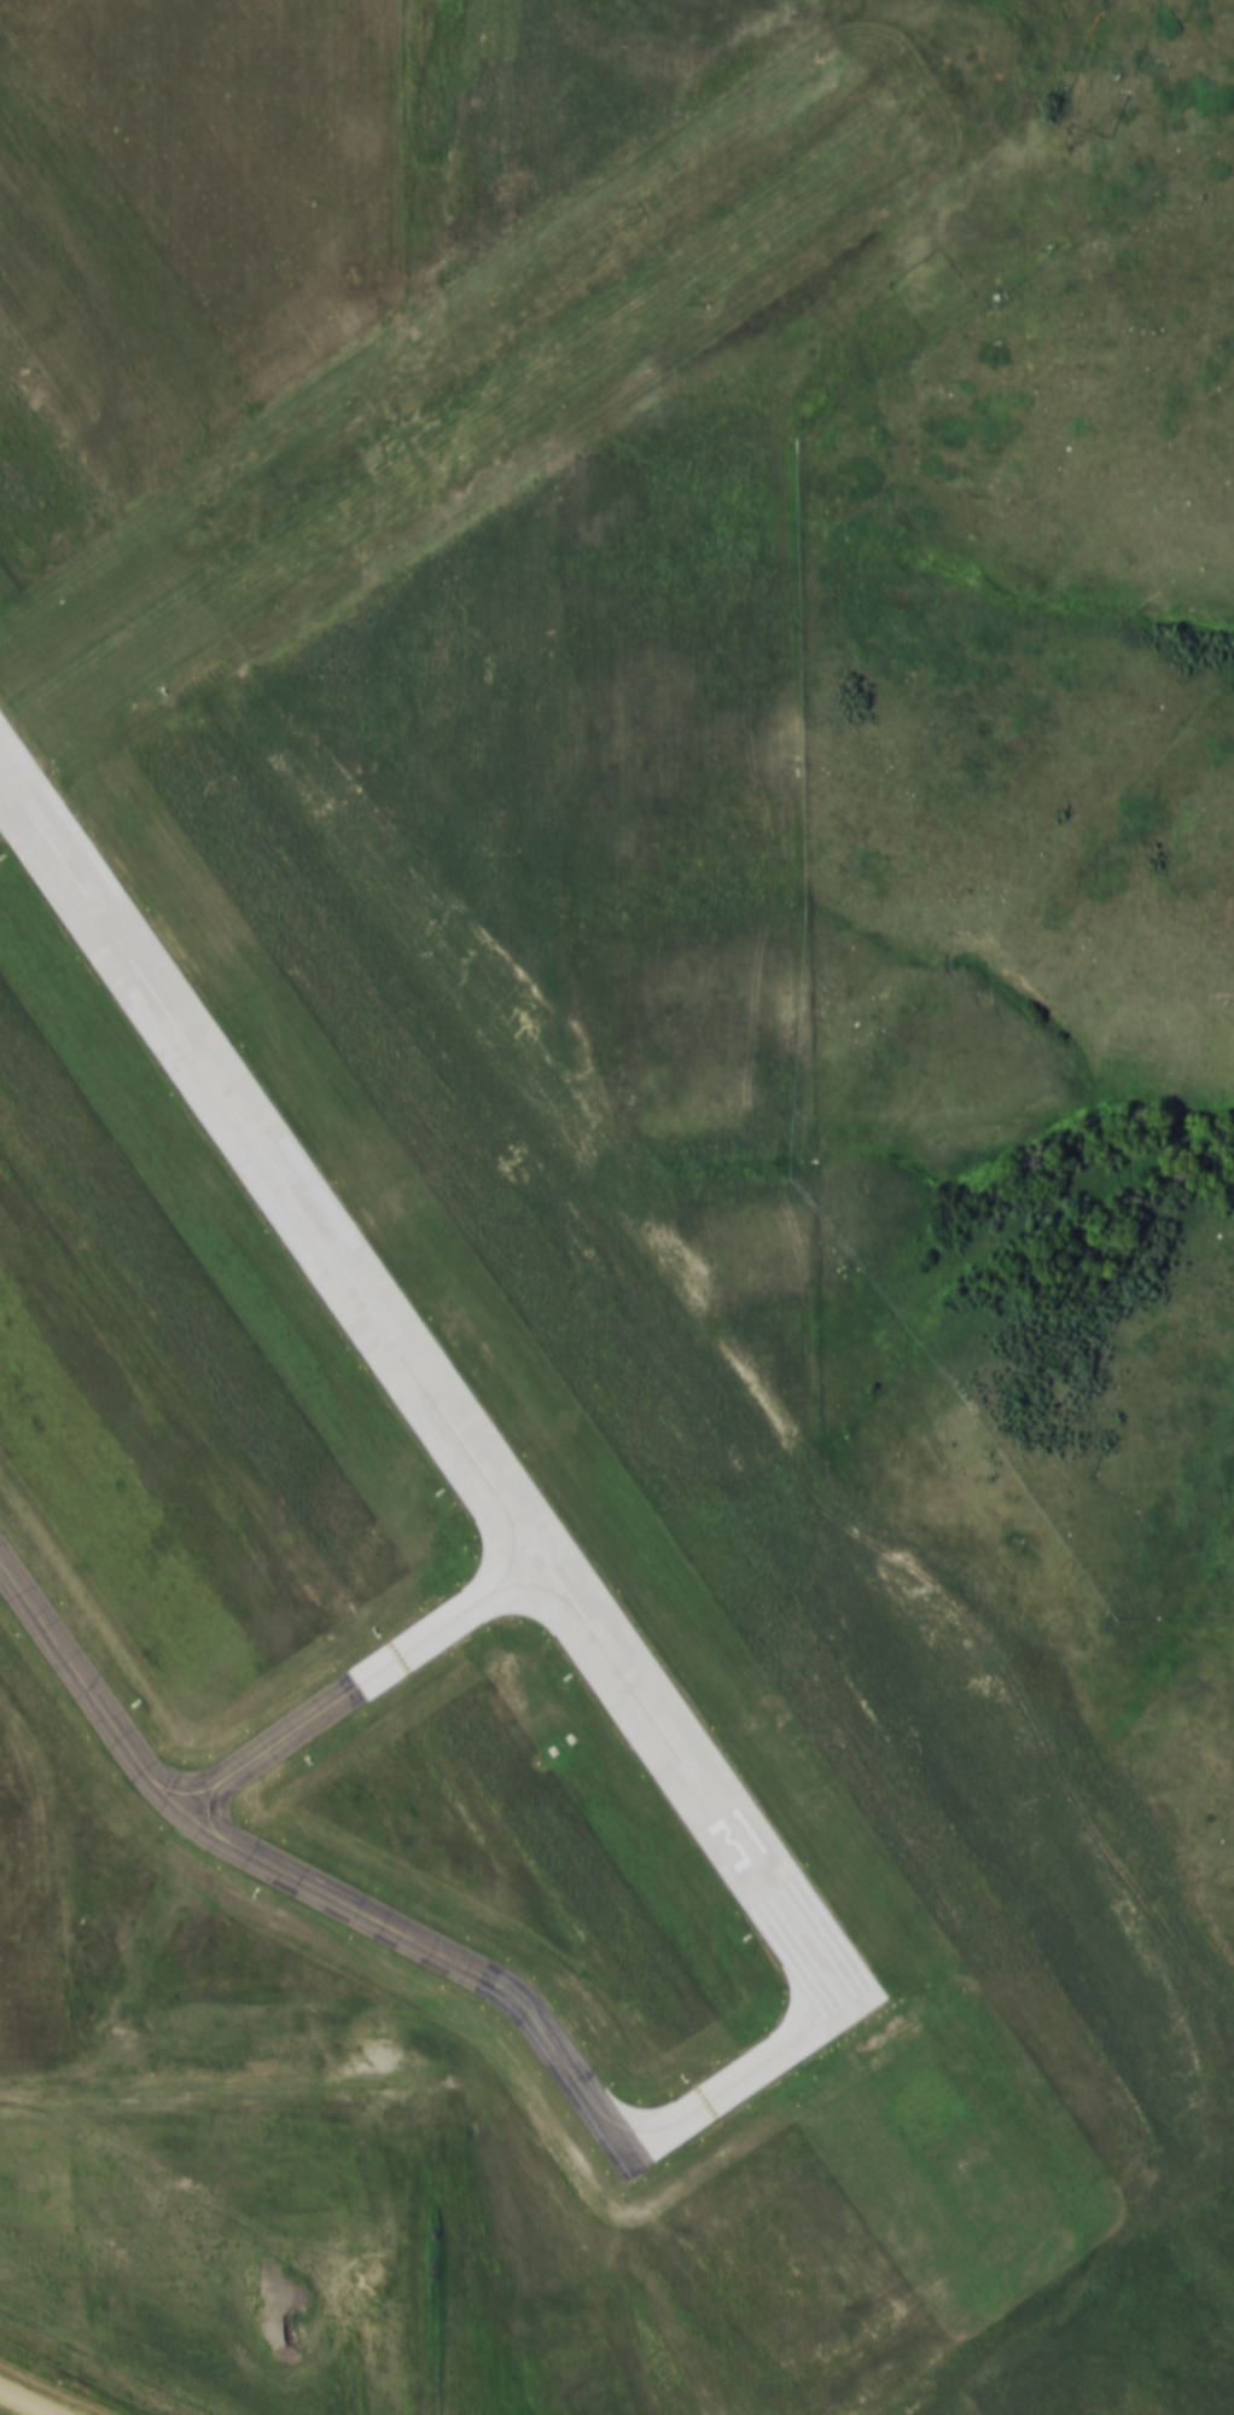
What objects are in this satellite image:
airport runway: (440, 416)
airport runway: (432, 1394)
airport taxiway: (365, 1684)
airport taxiway: (378, 1920)
road: (35, 2089)
road: (28, 2401)

